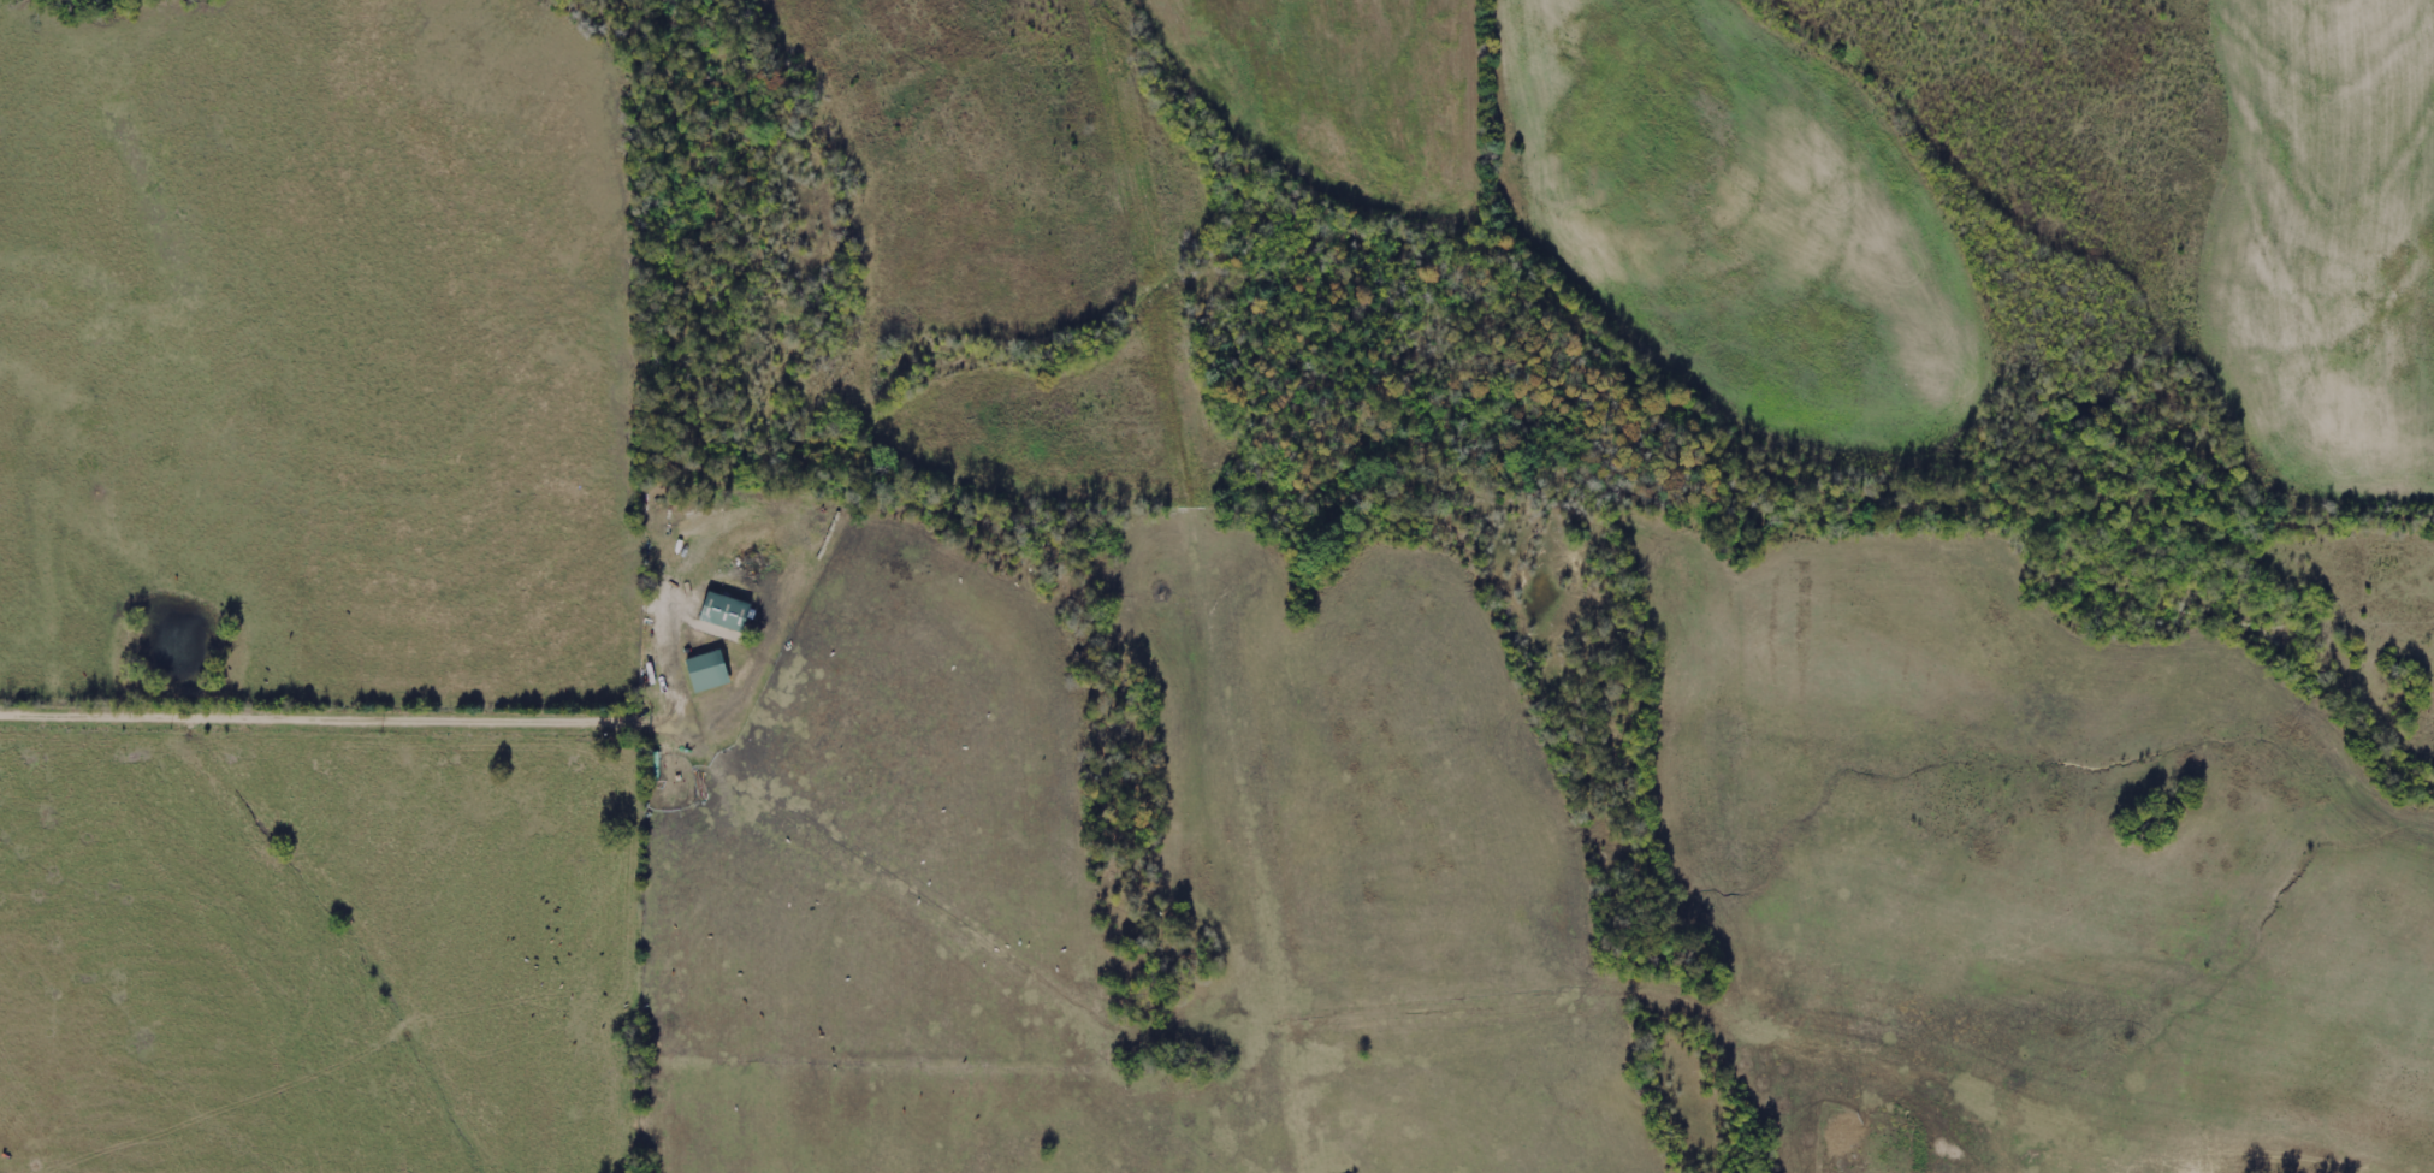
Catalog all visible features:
building: (728, 612)
building: (711, 671)
road: (330, 713)

